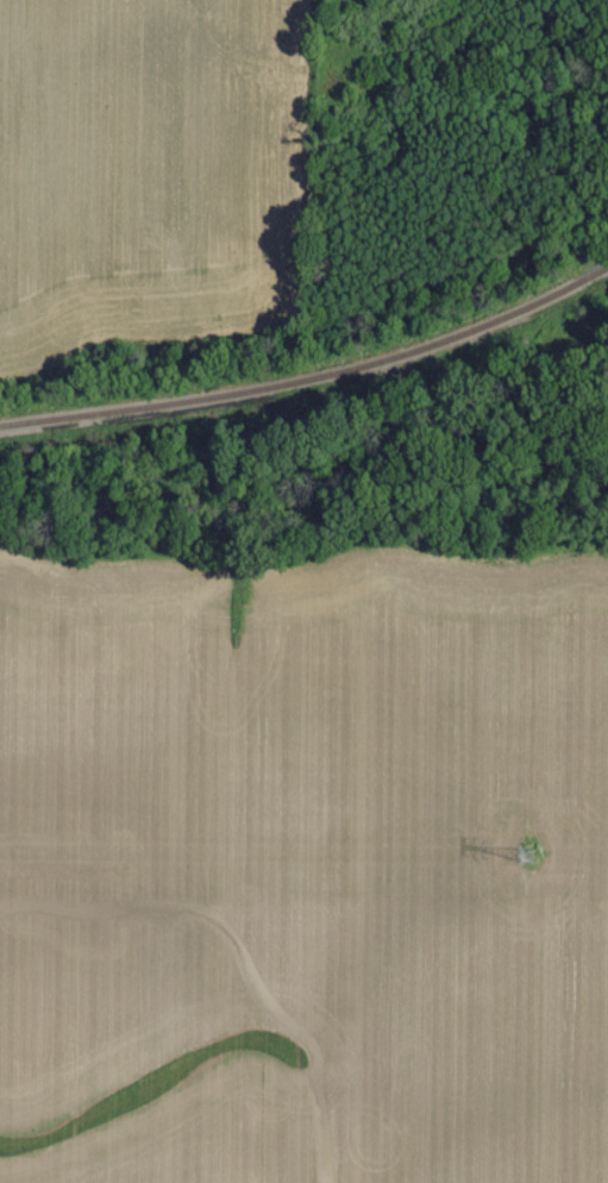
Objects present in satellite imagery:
railway: (312, 377)
power tower: (531, 856)

